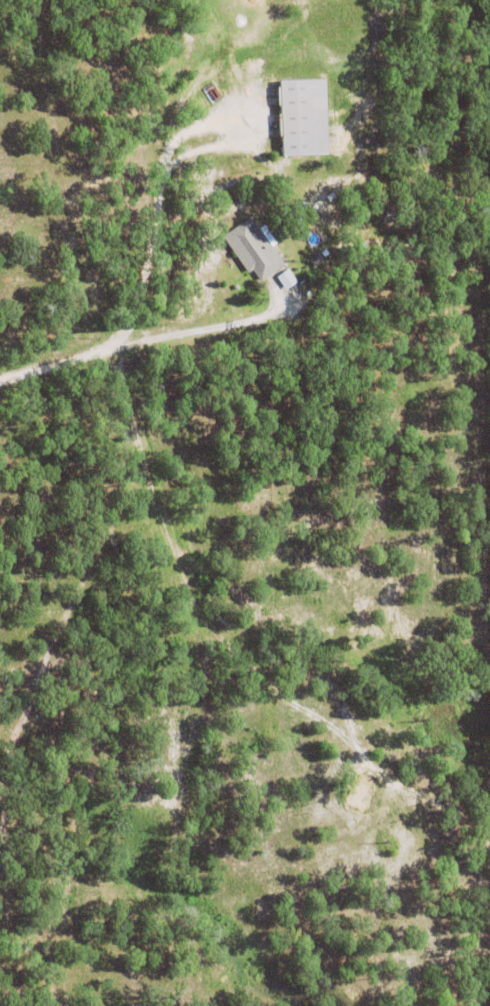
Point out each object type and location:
building: (302, 113)
road: (155, 200)
building: (256, 250)
building: (393, 258)
building: (316, 259)
building: (287, 278)
road: (199, 327)
road: (59, 358)

